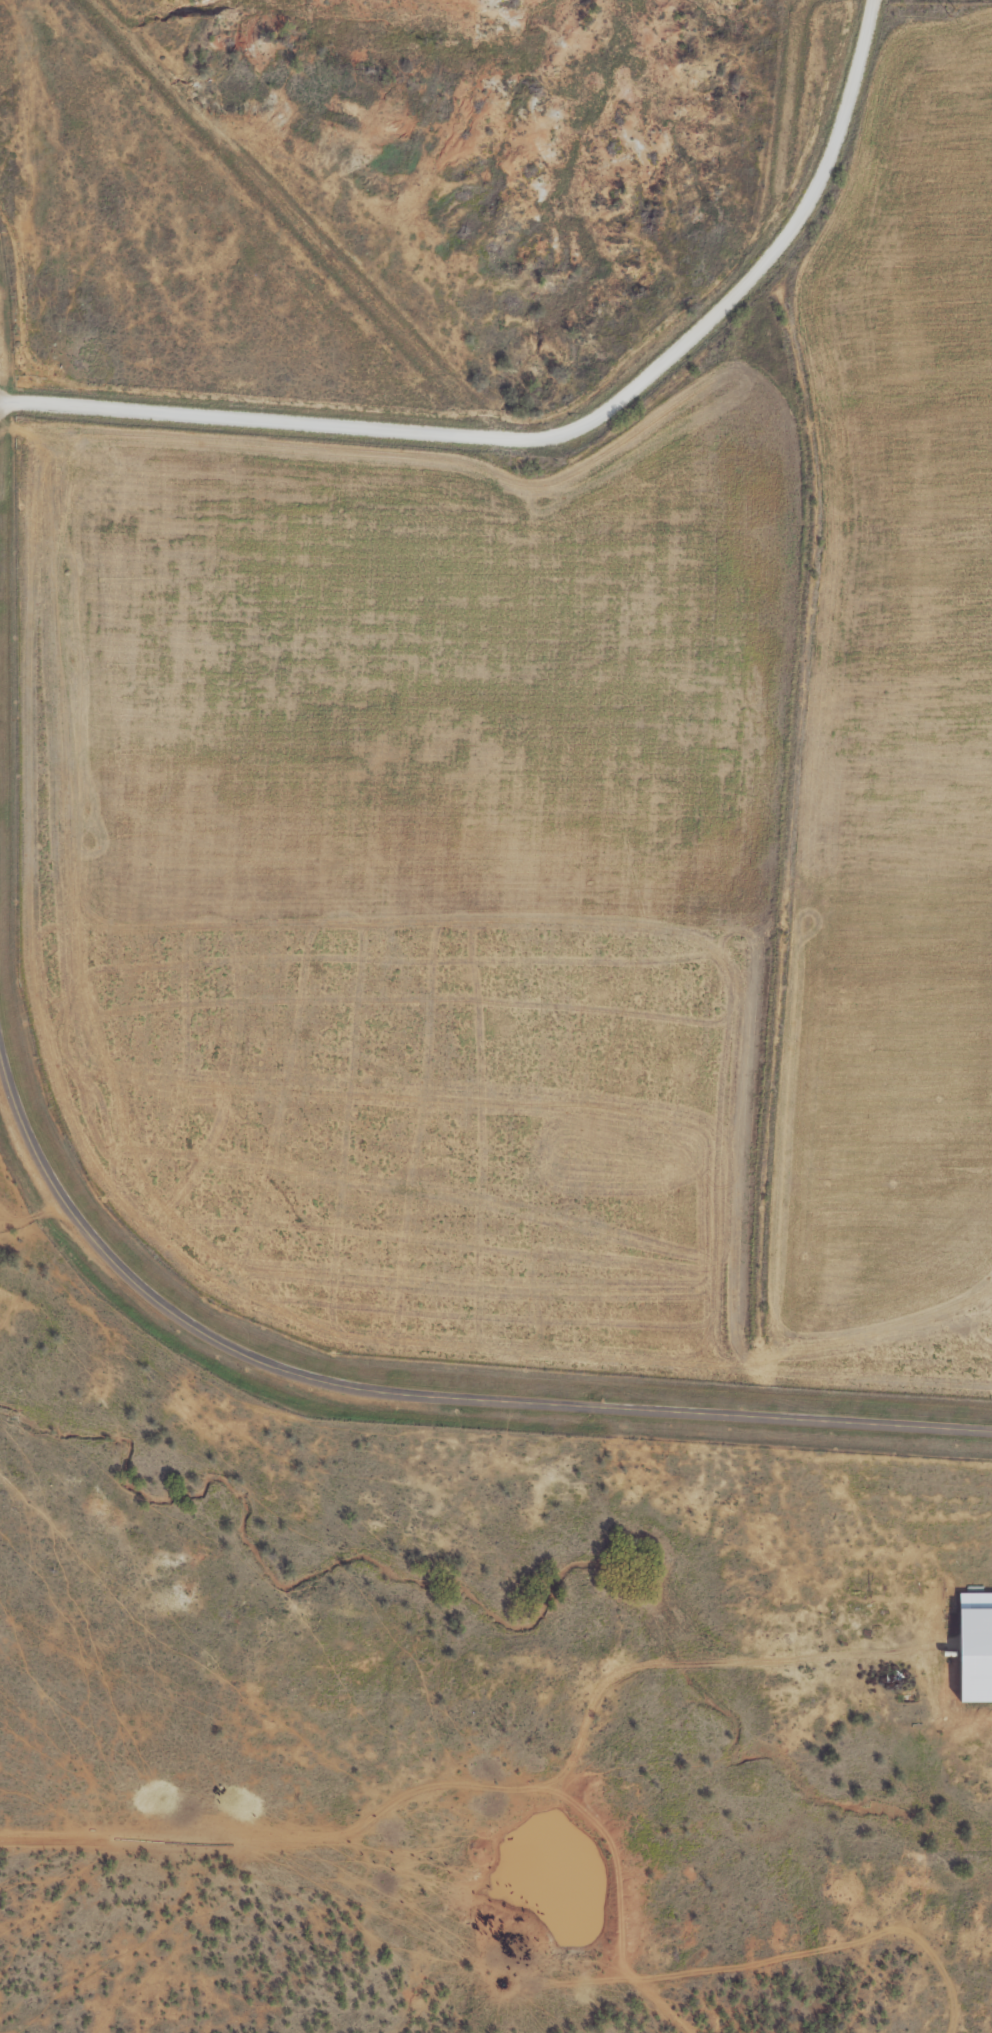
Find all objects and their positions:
power tower: (952, 11)
road: (559, 441)
road: (422, 1391)
building: (979, 1603)
road: (505, 2014)

